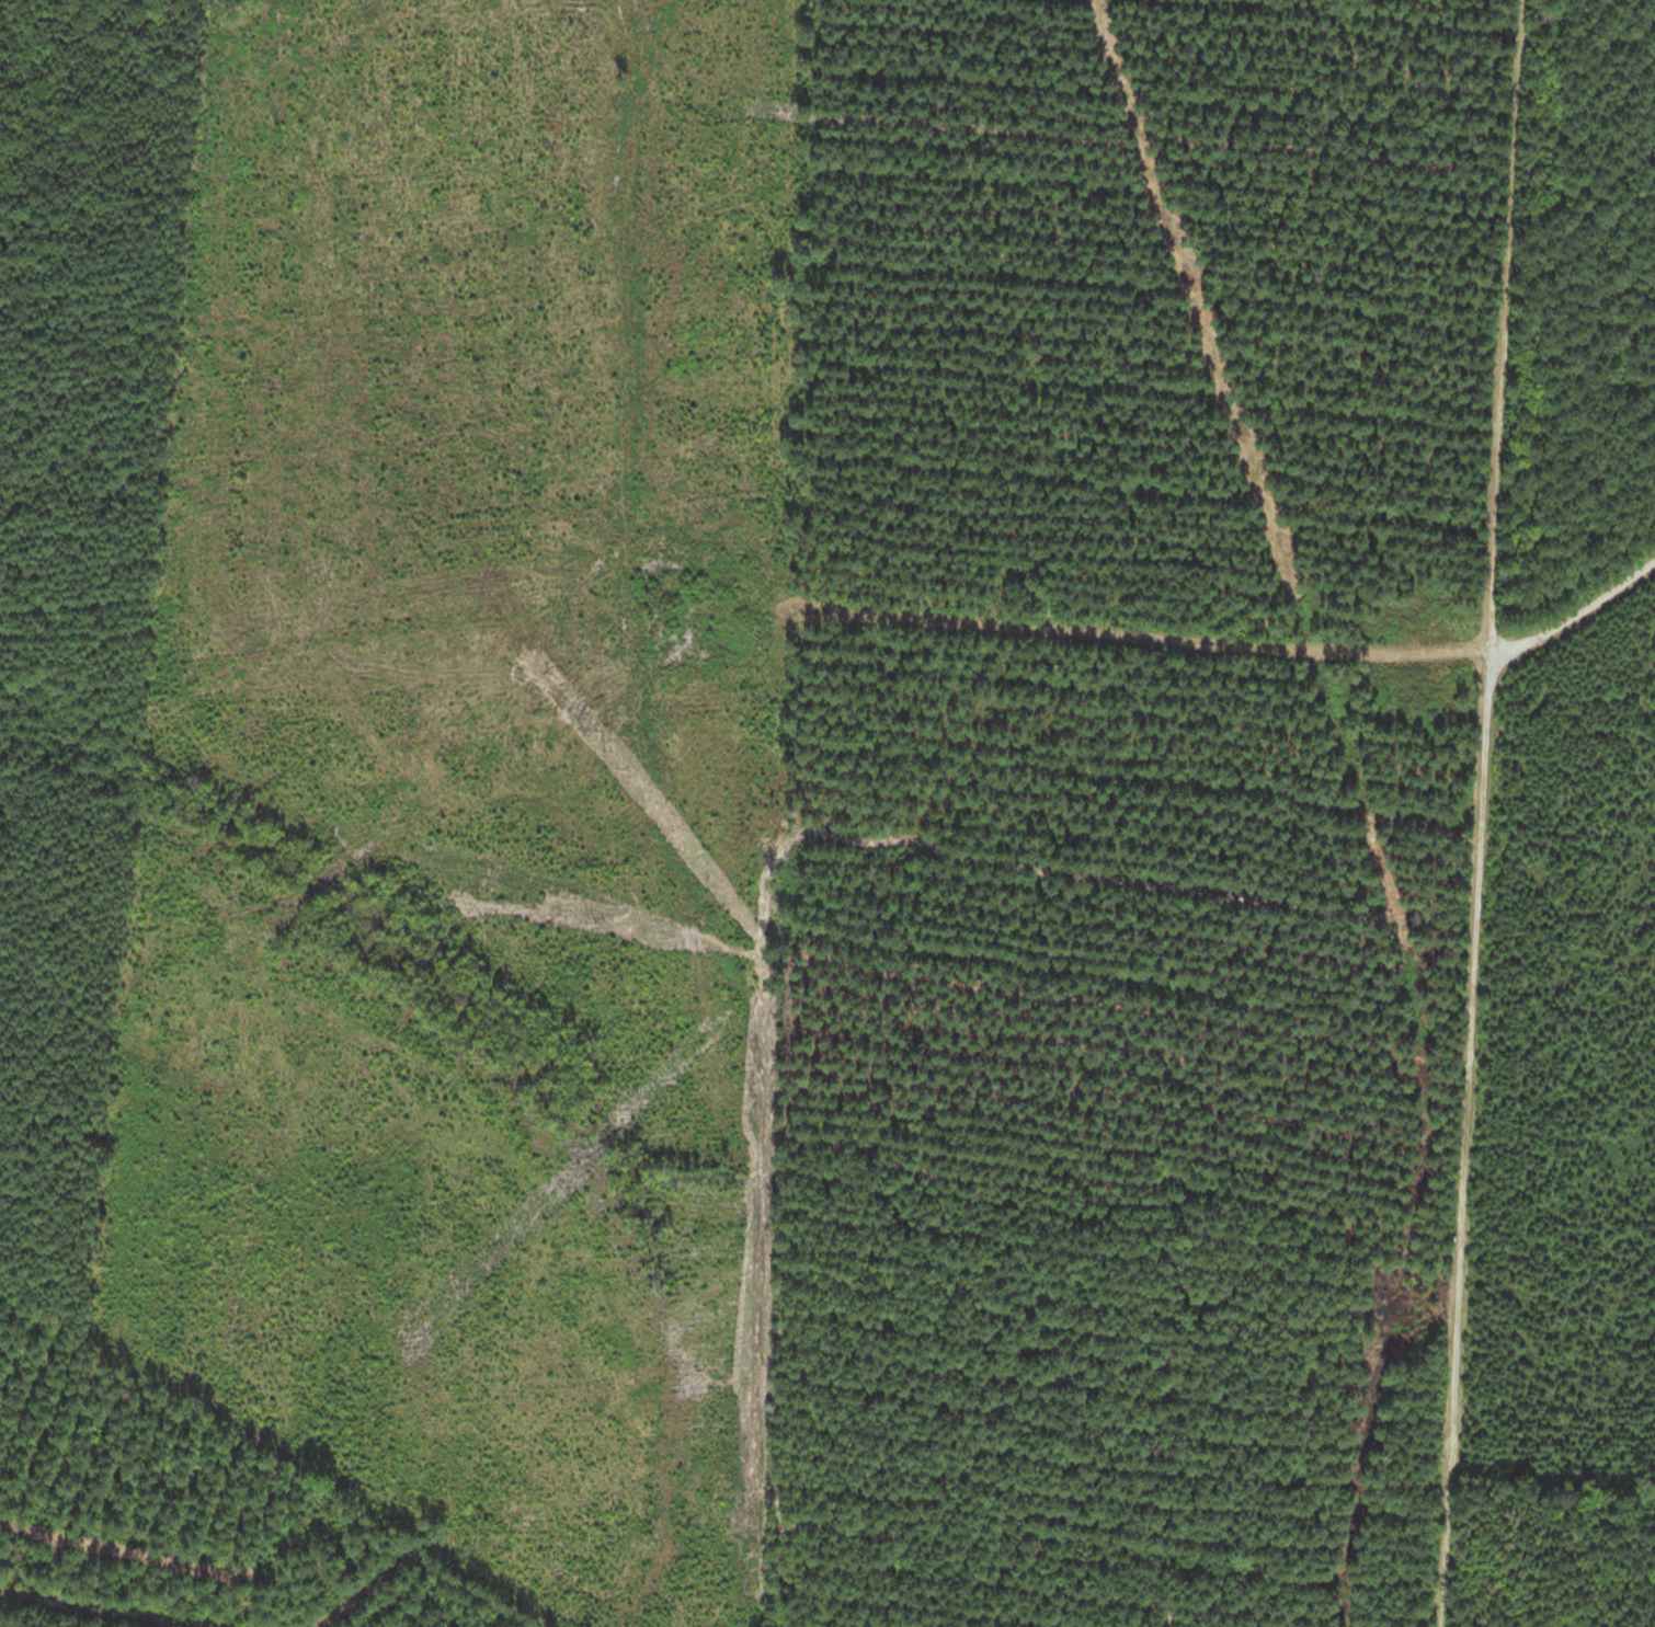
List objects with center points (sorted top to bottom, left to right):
road: (1473, 1051)
road: (50, 1616)

